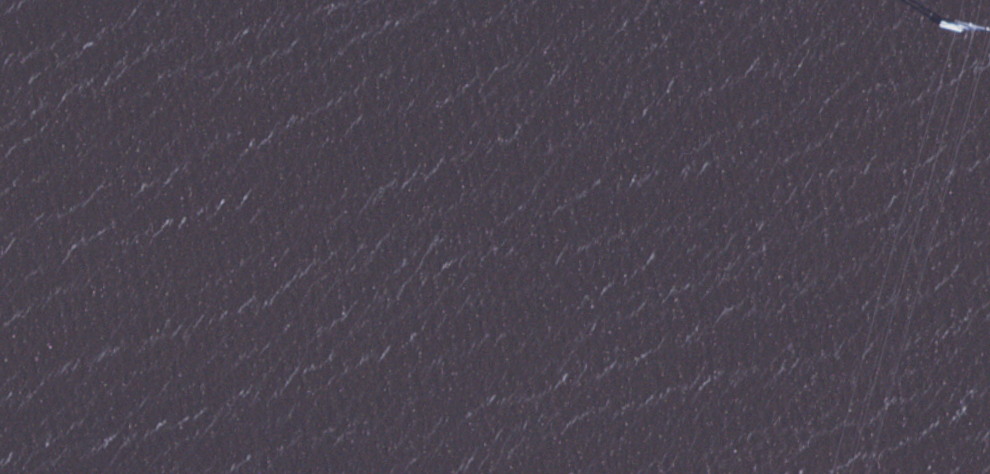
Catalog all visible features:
power tower: (942, 30)

